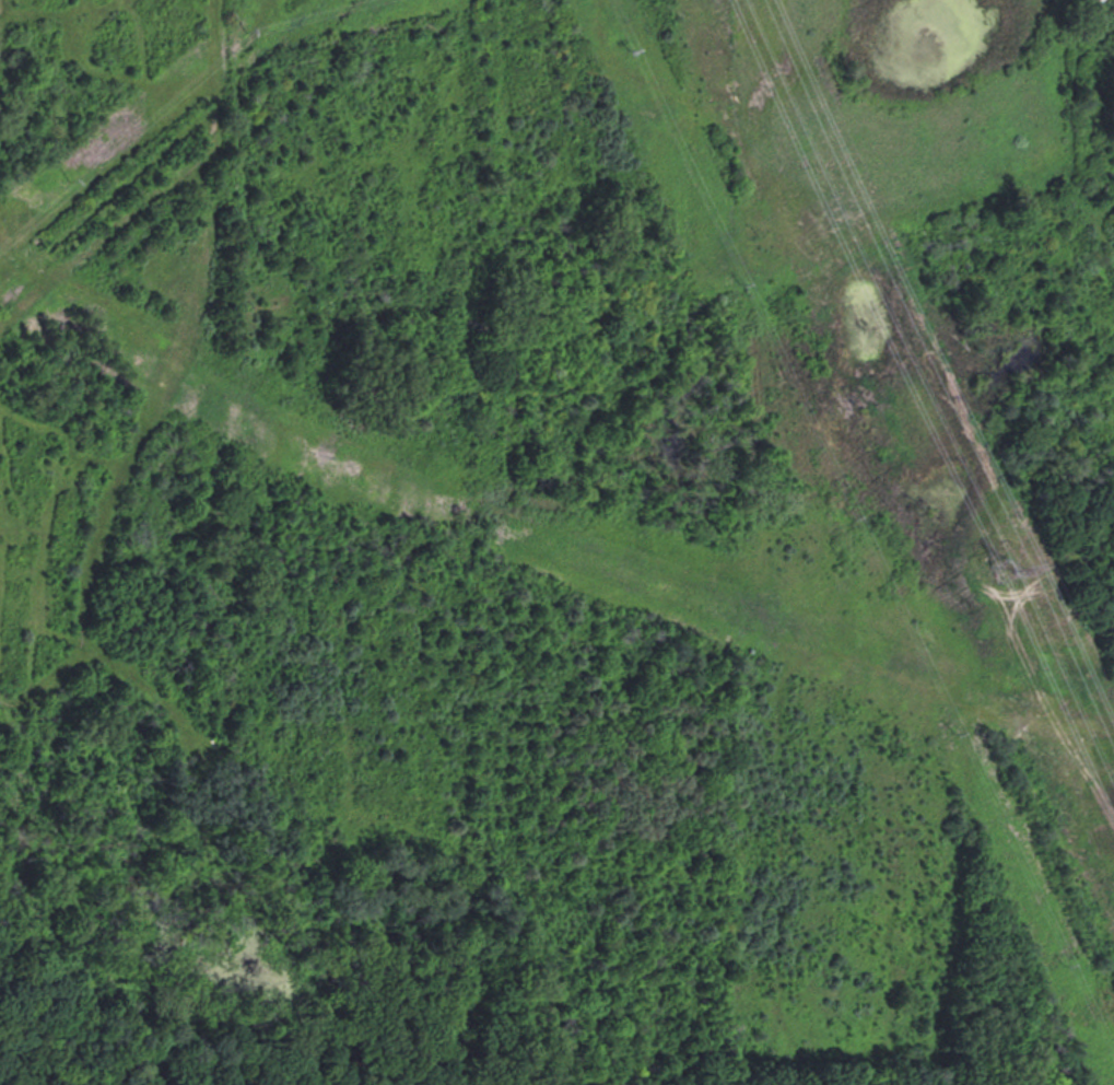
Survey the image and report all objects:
power tower: (1004, 569)

